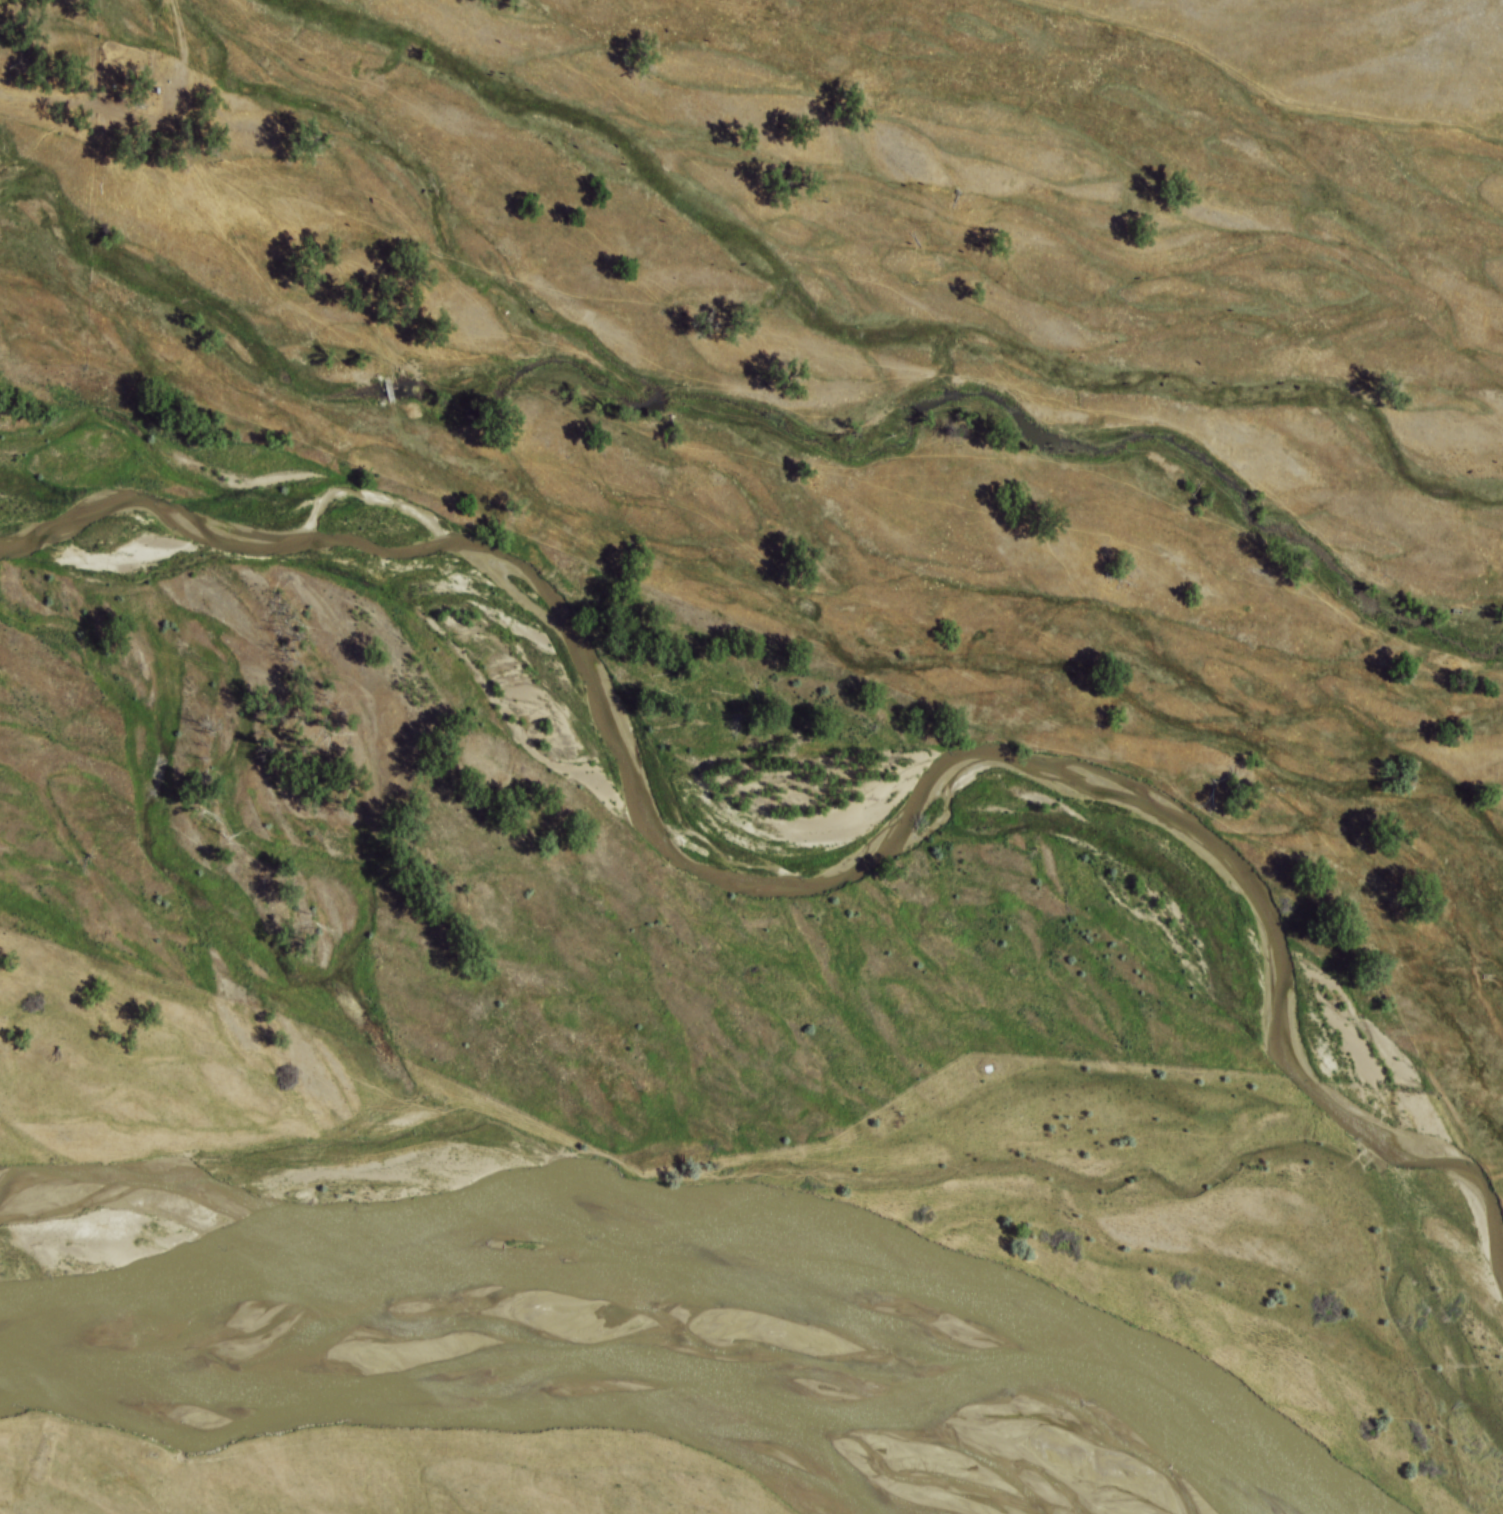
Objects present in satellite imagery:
river: (634, 1345)

